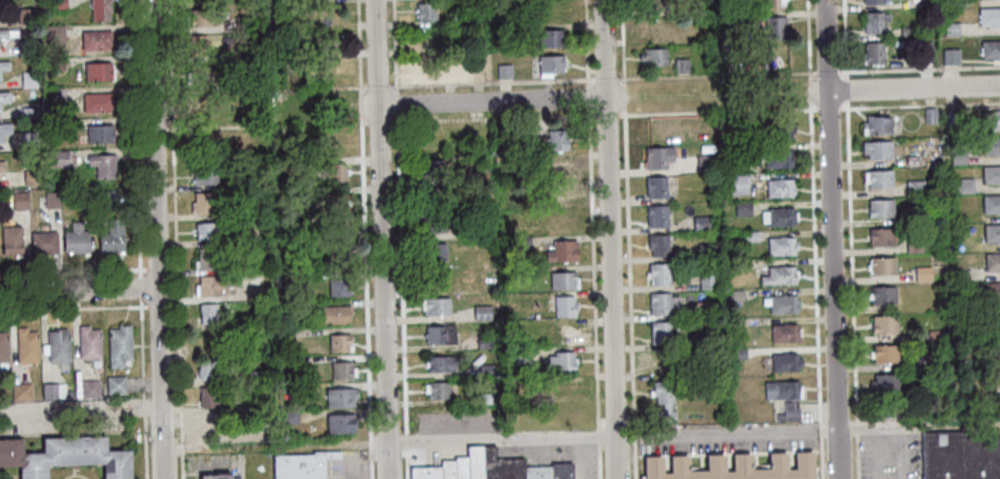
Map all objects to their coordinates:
building: (872, 2)
building: (653, 3)
building: (2, 4)
building: (56, 4)
building: (773, 5)
building: (550, 9)
building: (99, 10)
building: (425, 11)
building: (325, 14)
building: (26, 16)
building: (200, 17)
building: (988, 18)
building: (459, 19)
building: (730, 20)
building: (874, 22)
building: (242, 23)
building: (650, 27)
building: (775, 27)
building: (950, 29)
building: (908, 32)
building: (53, 33)
building: (3, 34)
building: (699, 36)
building: (549, 39)
building: (95, 41)
building: (323, 41)
building: (196, 45)
building: (26, 47)
building: (990, 50)
building: (241, 51)
building: (925, 52)
building: (873, 53)
building: (653, 56)
building: (950, 56)
building: (54, 63)
building: (550, 64)
building: (3, 66)
building: (681, 66)
building: (428, 67)
building: (475, 70)
building: (97, 71)
building: (503, 71)
road: (590, 73)
building: (200, 75)
road: (808, 75)
road: (605, 76)
building: (28, 80)
road: (370, 86)
road: (905, 89)
building: (55, 96)
building: (4, 98)
road: (492, 102)
building: (96, 103)
building: (28, 112)
road: (162, 112)
road: (679, 113)
building: (931, 118)
building: (952, 118)
building: (994, 121)
building: (878, 125)
building: (662, 128)
building: (780, 128)
building: (5, 129)
road: (200, 129)
building: (707, 132)
building: (99, 134)
building: (0, 140)
building: (28, 140)
building: (433, 140)
building: (557, 140)
building: (202, 142)
building: (337, 143)
building: (991, 145)
building: (876, 149)
building: (707, 150)
building: (660, 157)
building: (778, 157)
building: (959, 157)
building: (57, 158)
building: (915, 158)
building: (292, 164)
building: (704, 164)
building: (101, 166)
building: (2, 167)
building: (433, 169)
building: (556, 171)
building: (336, 172)
building: (991, 174)
building: (203, 175)
building: (31, 177)
building: (879, 178)
building: (738, 184)
building: (965, 184)
building: (657, 186)
building: (781, 187)
building: (916, 187)
building: (557, 195)
building: (432, 196)
building: (52, 199)
building: (104, 199)
road: (137, 199)
building: (84, 200)
building: (19, 201)
building: (991, 203)
building: (205, 204)
building: (334, 204)
building: (881, 207)
road: (849, 208)
building: (745, 209)
road: (814, 210)
building: (522, 214)
building: (659, 215)
building: (780, 216)
building: (434, 223)
building: (702, 223)
building: (559, 224)
building: (210, 231)
building: (471, 231)
building: (992, 232)
building: (752, 235)
building: (882, 236)
building: (111, 238)
road: (156, 239)
road: (176, 239)
road: (364, 239)
road: (381, 239)
road: (400, 239)
road: (592, 239)
road: (609, 239)
road: (627, 239)
road: (831, 239)
building: (75, 240)
building: (11, 242)
building: (43, 243)
building: (521, 243)
building: (659, 245)
building: (784, 246)
building: (915, 246)
building: (336, 251)
building: (434, 251)
building: (562, 252)
building: (707, 252)
building: (209, 258)
building: (992, 261)
building: (883, 265)
building: (255, 267)
road: (78, 273)
building: (924, 273)
building: (659, 274)
building: (781, 275)
building: (959, 275)
building: (285, 280)
building: (707, 280)
building: (562, 281)
building: (255, 282)
building: (211, 284)
building: (338, 287)
road: (79, 291)
building: (992, 291)
building: (253, 292)
building: (736, 294)
building: (884, 295)
building: (664, 302)
building: (782, 303)
building: (436, 306)
building: (564, 306)
road: (79, 309)
building: (704, 310)
building: (207, 313)
building: (481, 313)
building: (336, 315)
building: (995, 320)
building: (737, 323)
building: (885, 324)
building: (661, 331)
building: (786, 332)
building: (936, 334)
building: (440, 335)
building: (562, 335)
building: (212, 341)
building: (285, 341)
building: (483, 342)
building: (89, 343)
building: (339, 343)
building: (58, 346)
building: (119, 346)
building: (27, 347)
building: (3, 348)
building: (996, 348)
building: (739, 353)
building: (885, 353)
building: (520, 356)
building: (960, 360)
building: (562, 361)
building: (923, 361)
building: (294, 362)
building: (787, 362)
building: (440, 364)
building: (209, 370)
building: (341, 370)
building: (486, 370)
building: (257, 376)
building: (996, 378)
building: (886, 381)
building: (115, 385)
building: (564, 388)
building: (90, 389)
building: (437, 390)
building: (50, 391)
building: (60, 391)
building: (21, 392)
building: (69, 394)
building: (208, 396)
building: (786, 396)
building: (340, 398)
building: (485, 399)
building: (665, 400)
road: (144, 408)
road: (80, 412)
building: (289, 418)
building: (210, 422)
building: (339, 424)
road: (928, 424)
road: (856, 425)
building: (259, 428)
road: (736, 430)
road: (820, 430)
road: (501, 438)
parking lot: (729, 440)
road: (145, 448)
building: (74, 452)
building: (10, 454)
building: (961, 455)
road: (857, 456)
road: (820, 459)
parking lot: (586, 460)
building: (474, 463)
building: (301, 465)
building: (116, 466)
building: (499, 466)
building: (32, 467)
building: (460, 468)
building: (736, 468)
building: (446, 469)
building: (561, 471)
building: (536, 472)
building: (424, 473)
road: (74, 474)
building: (215, 477)
road: (0, 478)

